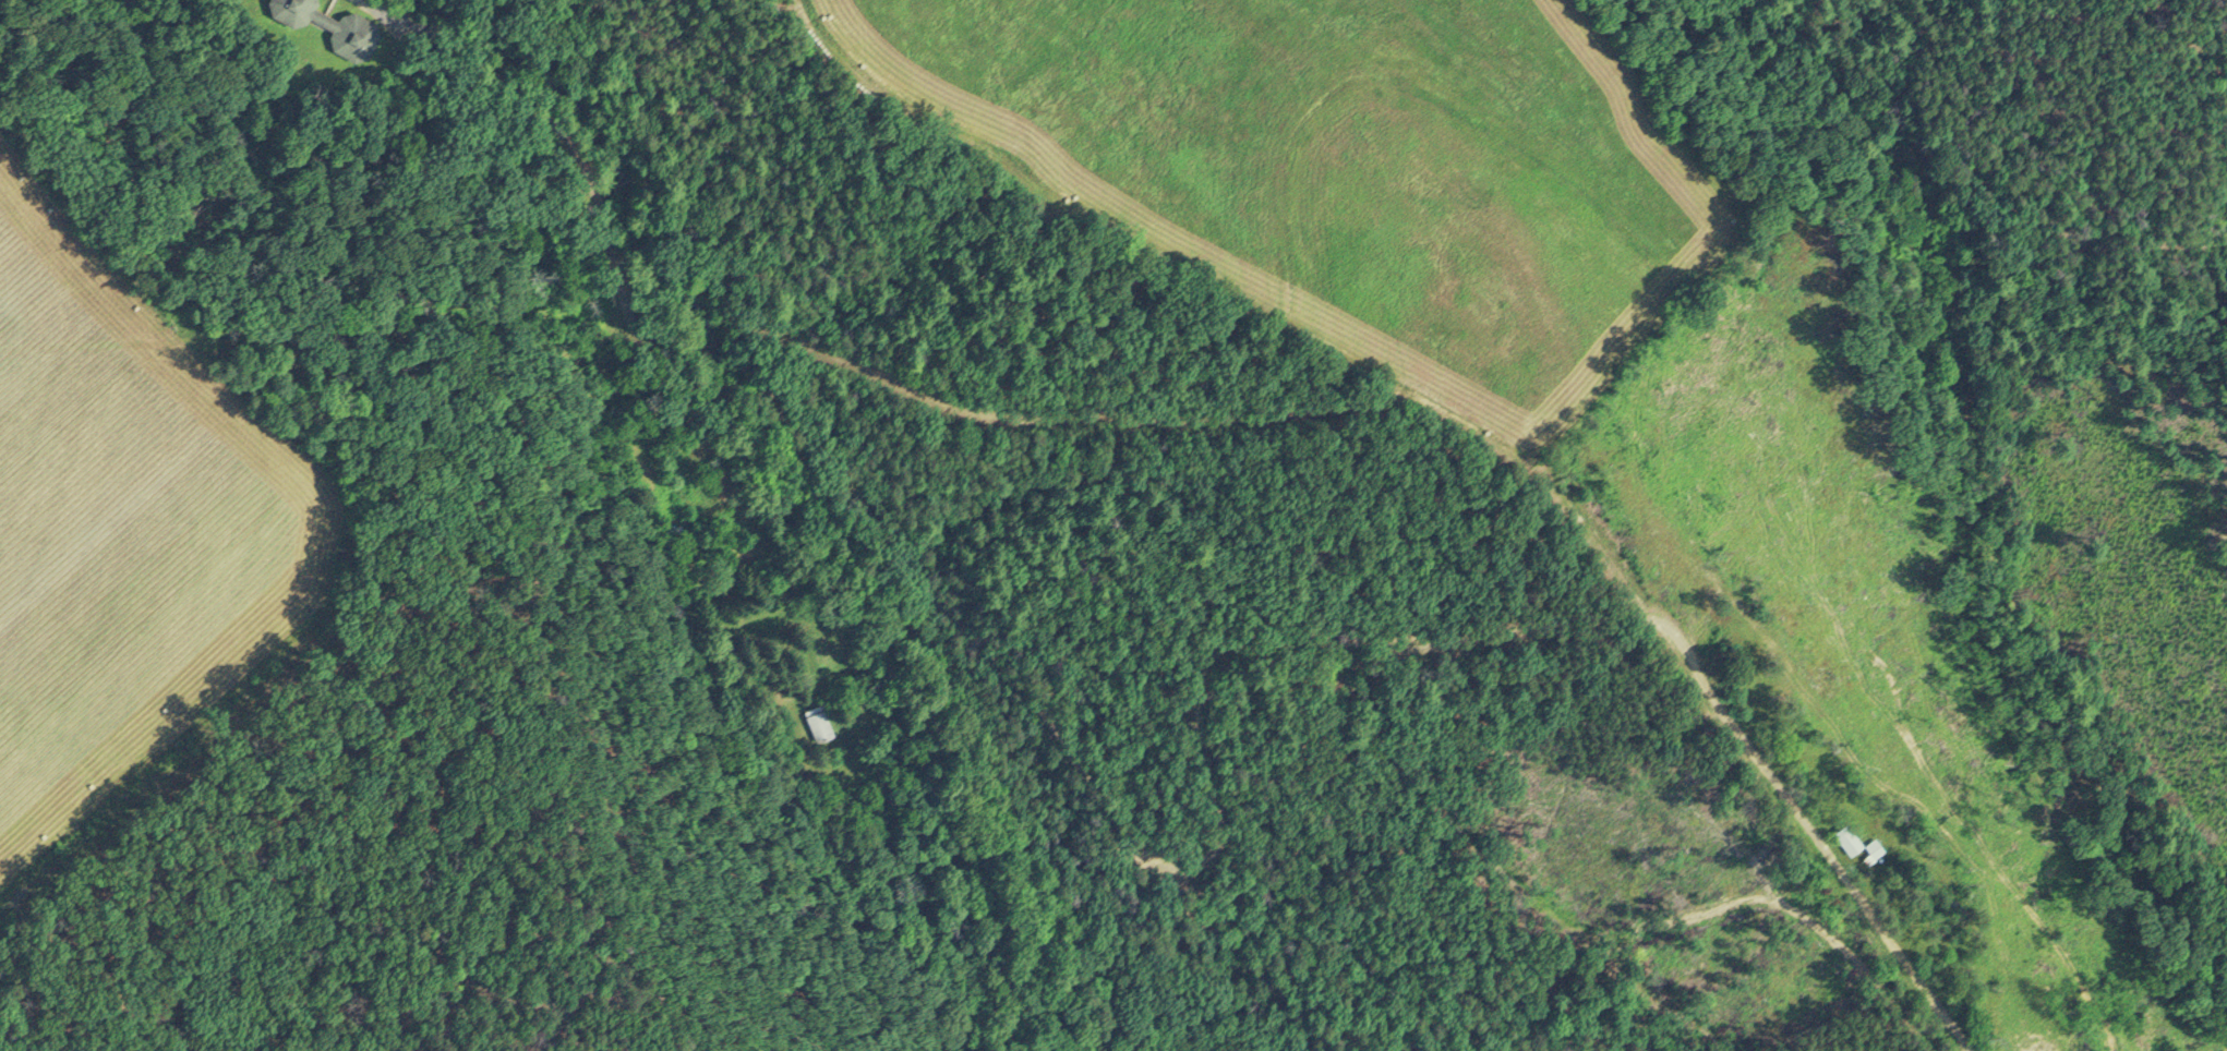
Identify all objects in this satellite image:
road: (388, 11)
building: (332, 25)
park: (360, 158)
building: (818, 724)
building: (1855, 841)

